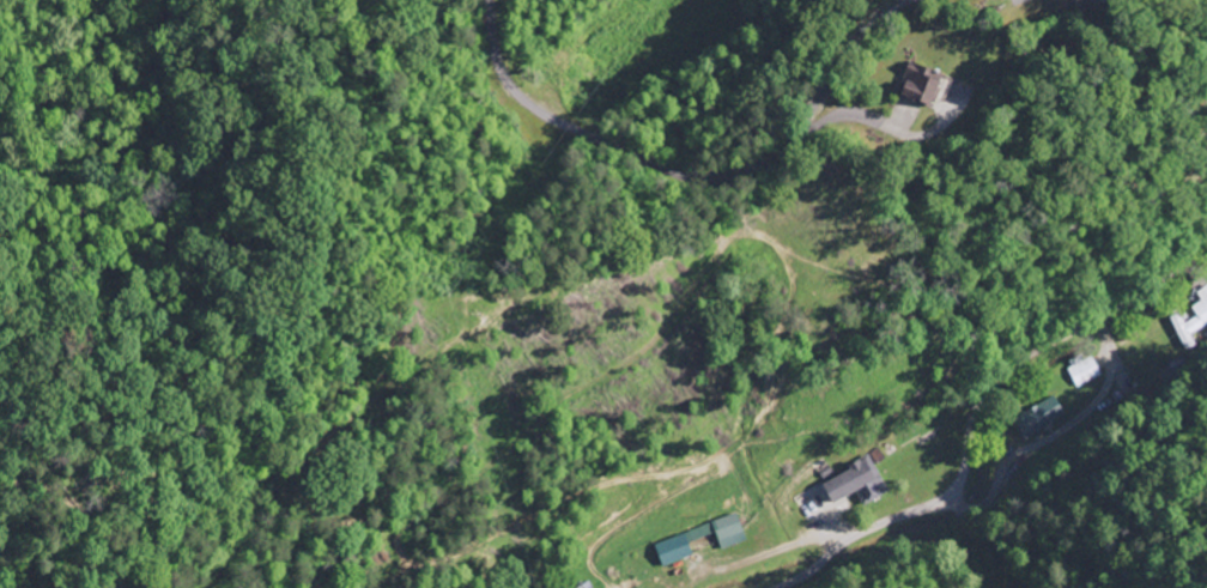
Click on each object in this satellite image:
building: (927, 83)
road: (654, 164)
building: (1085, 371)
road: (993, 378)
building: (1041, 418)
building: (857, 484)
building: (690, 538)
road: (805, 572)

